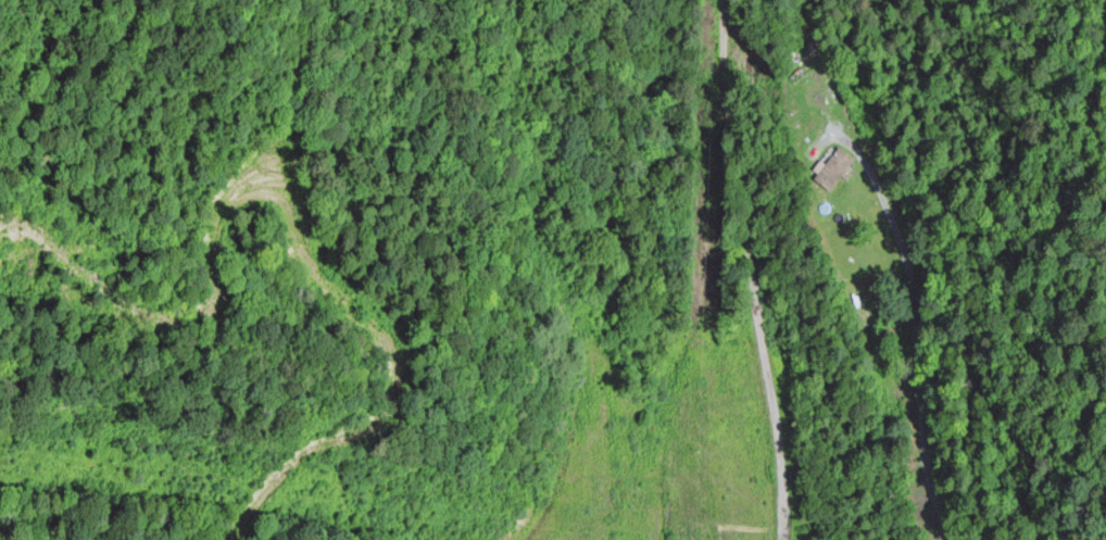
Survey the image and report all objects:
building: (831, 171)
road: (753, 269)
road: (908, 321)

